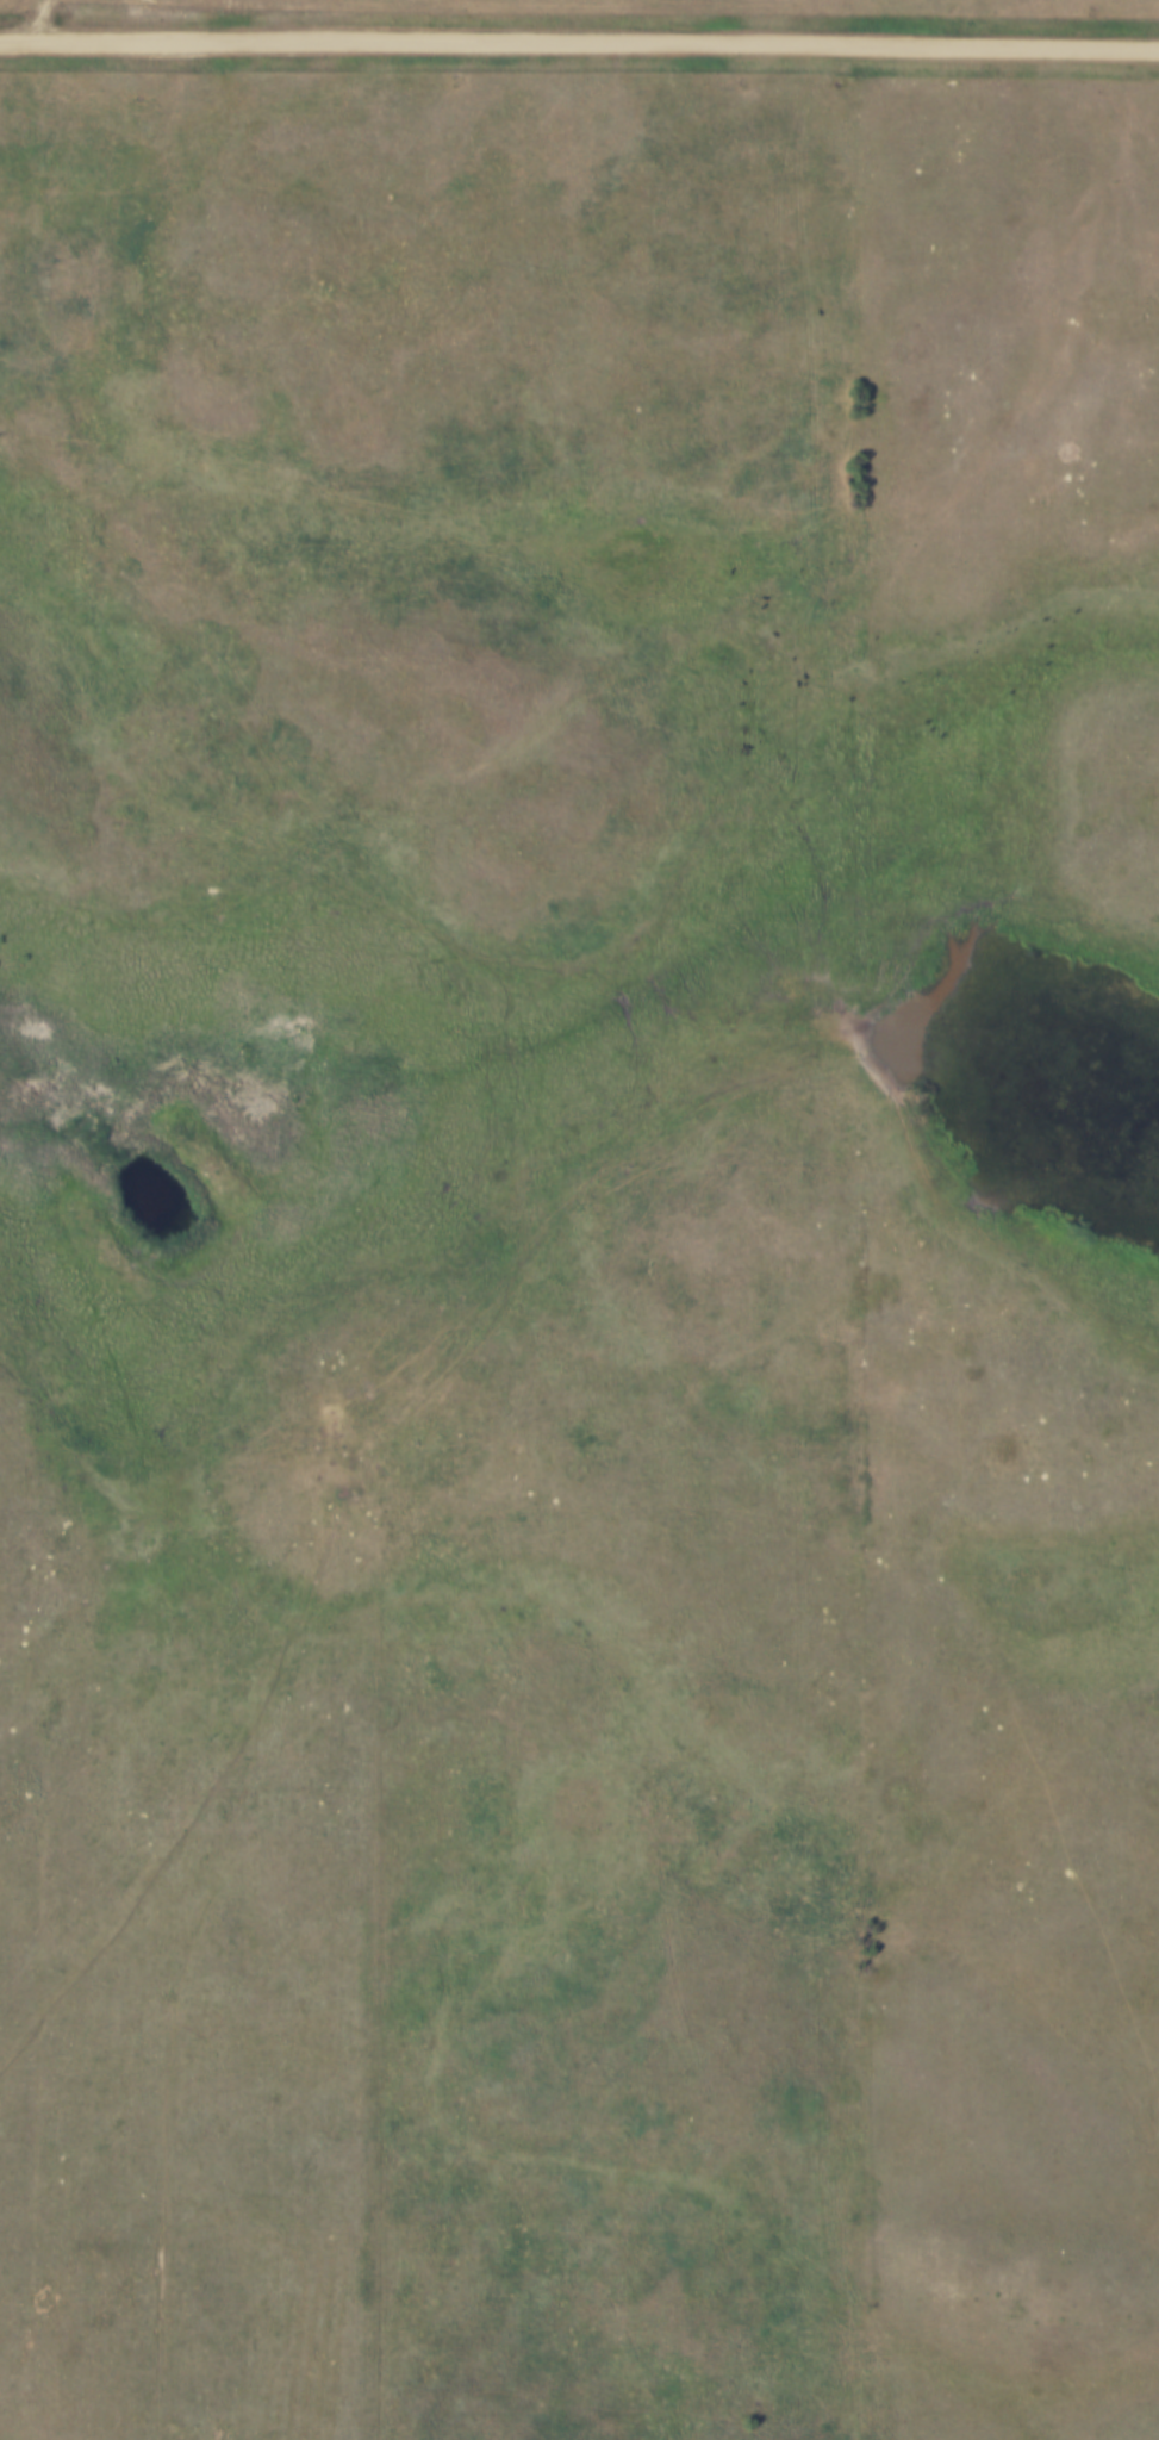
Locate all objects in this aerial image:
road: (579, 38)

